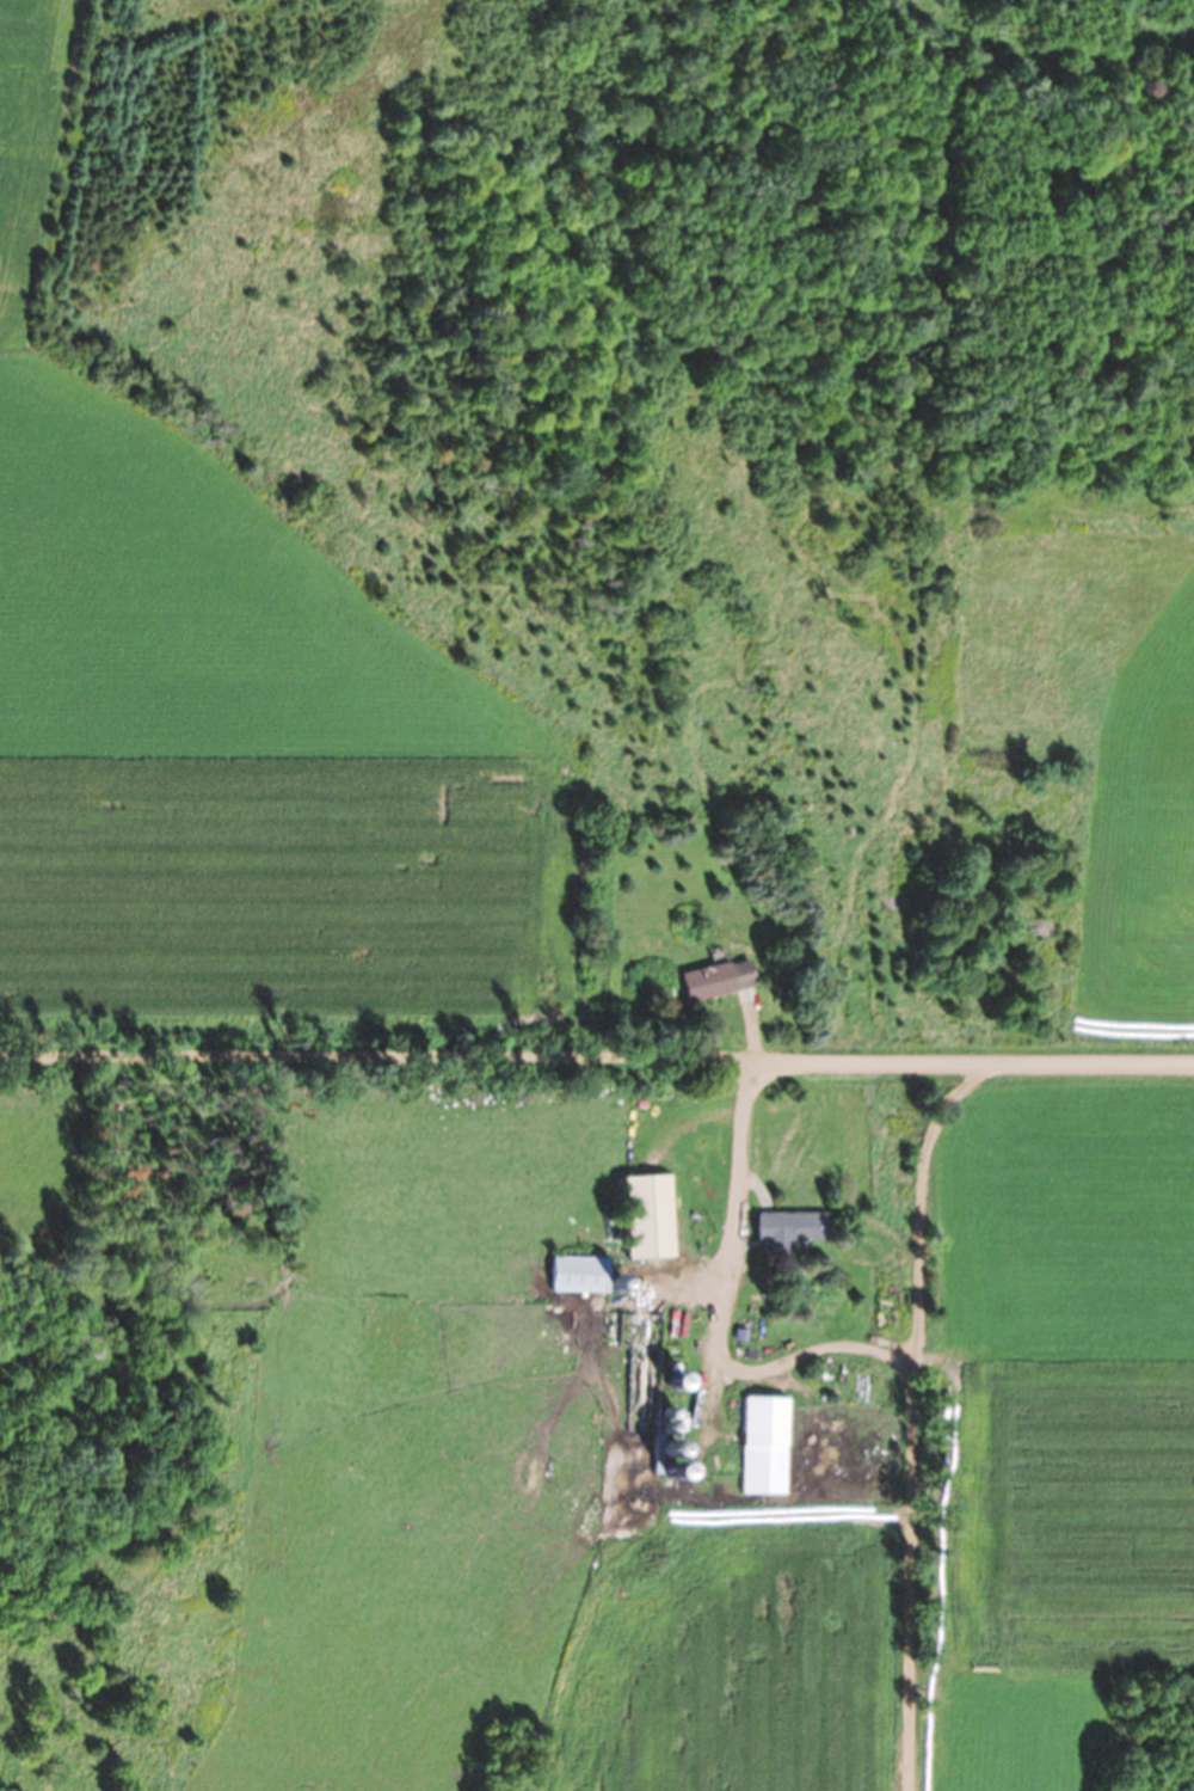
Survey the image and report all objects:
building: (718, 980)
road: (596, 1051)
building: (650, 1216)
building: (793, 1226)
building: (580, 1274)
building: (765, 1445)

